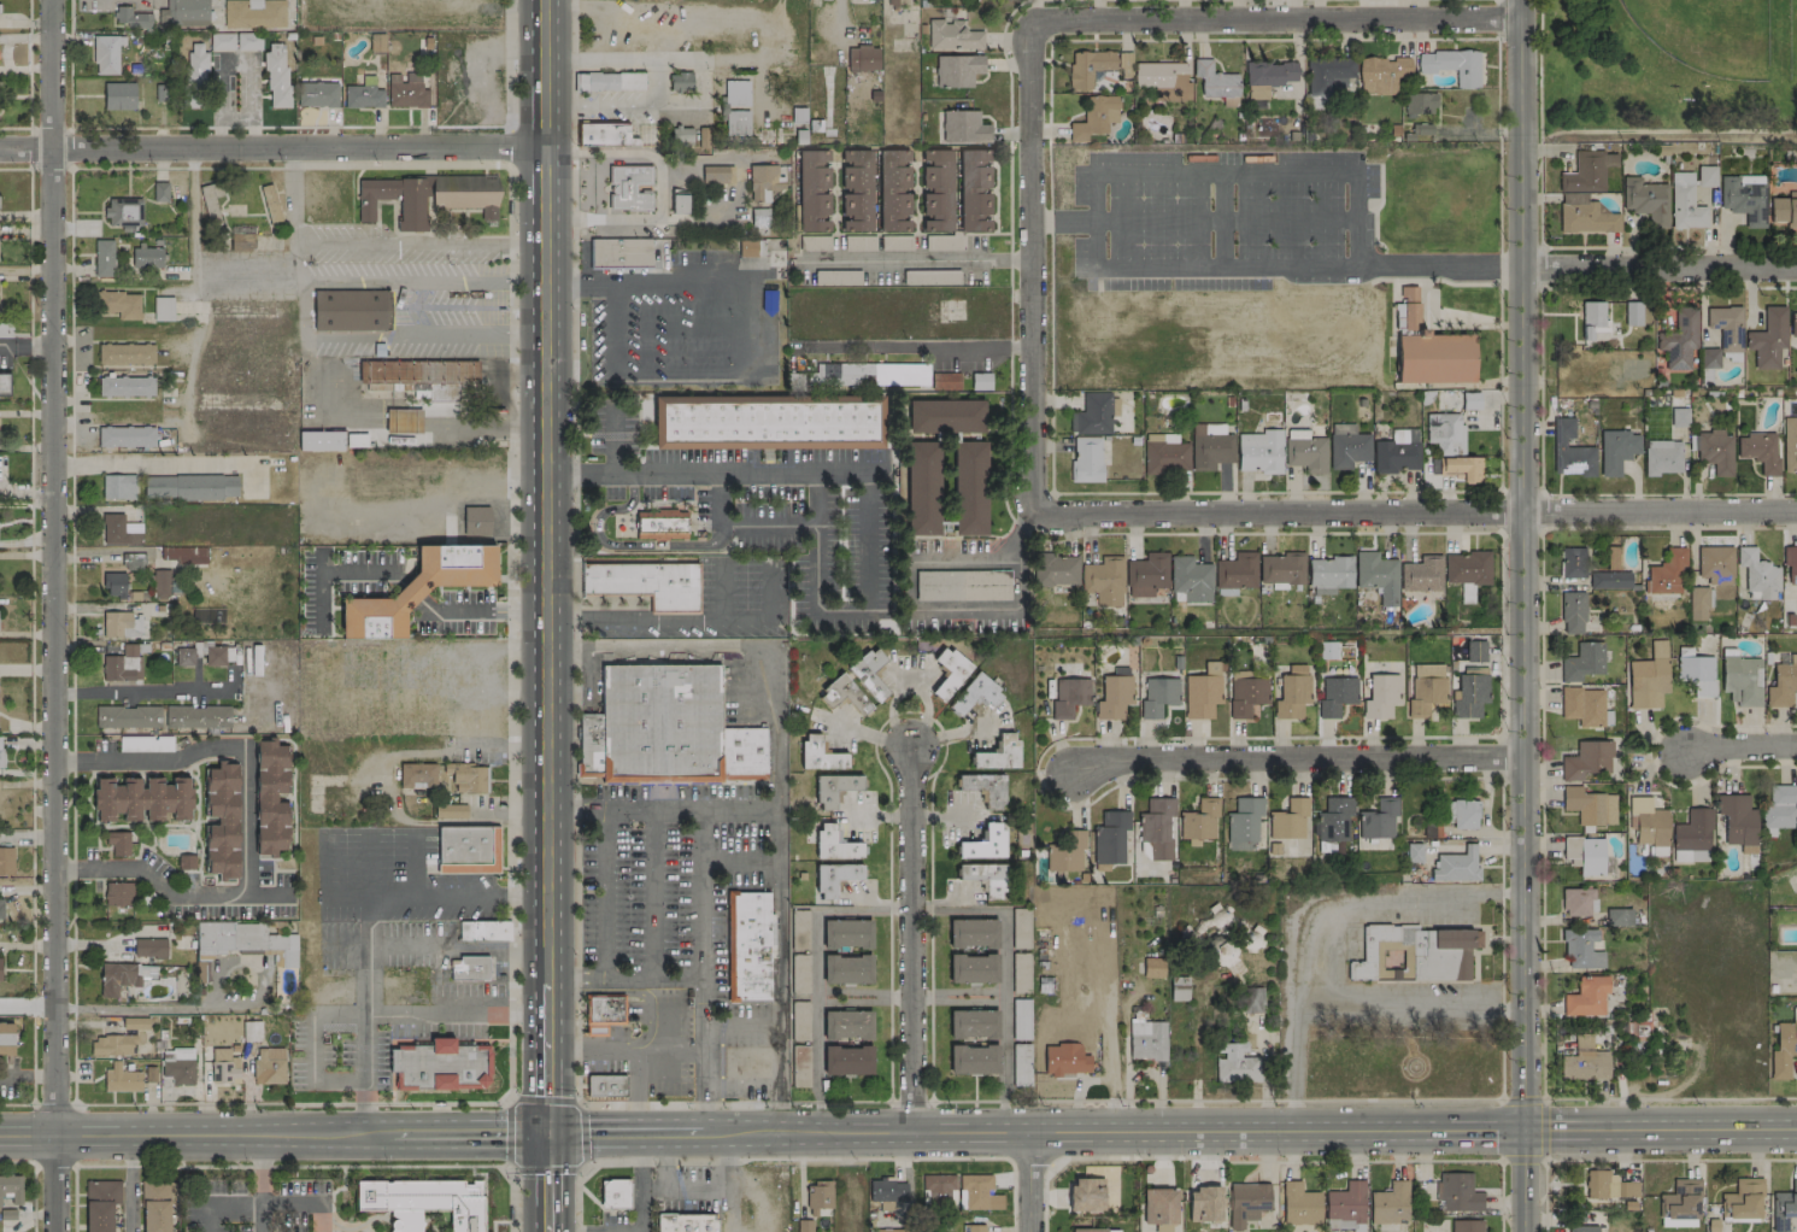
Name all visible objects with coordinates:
building: (186, 13)
building: (254, 13)
road: (1276, 14)
building: (133, 18)
road: (838, 27)
park: (1708, 33)
building: (952, 35)
road: (1051, 39)
building: (248, 40)
building: (222, 41)
building: (377, 42)
park: (1793, 48)
building: (106, 53)
building: (862, 58)
road: (595, 60)
building: (1452, 65)
building: (1088, 66)
building: (957, 69)
park: (1668, 70)
building: (1270, 72)
building: (1327, 74)
building: (1382, 74)
building: (195, 75)
building: (276, 75)
road: (28, 77)
building: (1163, 78)
building: (598, 81)
building: (1216, 82)
building: (406, 90)
building: (317, 94)
building: (364, 94)
building: (119, 95)
road: (628, 104)
building: (1420, 104)
building: (1094, 117)
building: (734, 123)
road: (101, 127)
road: (445, 127)
building: (962, 127)
building: (1421, 128)
building: (603, 134)
building: (689, 136)
road: (513, 145)
road: (272, 151)
building: (1586, 171)
building: (713, 174)
building: (1707, 175)
building: (763, 181)
building: (629, 187)
road: (658, 188)
building: (856, 189)
building: (893, 189)
building: (936, 189)
building: (159, 190)
building: (814, 190)
building: (974, 192)
building: (1646, 200)
building: (1743, 200)
building: (211, 201)
building: (1685, 201)
building: (270, 203)
building: (462, 203)
building: (1784, 209)
building: (124, 212)
building: (1584, 215)
road: (294, 216)
building: (761, 221)
road: (1064, 222)
road: (513, 233)
building: (237, 241)
road: (419, 246)
building: (751, 247)
road: (1539, 247)
building: (621, 252)
building: (147, 257)
road: (1094, 257)
building: (104, 258)
road: (921, 258)
road: (1035, 260)
road: (1657, 269)
road: (194, 270)
road: (645, 276)
building: (119, 304)
road: (454, 306)
building: (1410, 306)
building: (163, 307)
road: (305, 309)
building: (350, 309)
building: (1632, 312)
building: (1398, 317)
building: (1592, 318)
building: (1792, 324)
building: (1726, 327)
building: (5, 333)
building: (1768, 338)
building: (1679, 339)
road: (915, 345)
road: (25, 346)
building: (125, 353)
building: (1709, 357)
building: (1435, 358)
road: (446, 374)
building: (869, 374)
building: (418, 375)
building: (4, 382)
building: (127, 386)
building: (1470, 400)
building: (1092, 413)
building: (945, 416)
building: (1679, 416)
building: (404, 420)
building: (767, 422)
road: (428, 424)
building: (1445, 432)
road: (605, 434)
building: (127, 436)
building: (331, 440)
building: (1790, 444)
road: (724, 446)
building: (1210, 446)
building: (1349, 448)
building: (1616, 450)
building: (1758, 450)
building: (1259, 451)
building: (1305, 451)
building: (1397, 451)
building: (1569, 451)
building: (1715, 451)
building: (1165, 454)
building: (1662, 457)
building: (1087, 459)
road: (152, 462)
building: (1463, 468)
building: (118, 486)
building: (190, 487)
building: (922, 488)
building: (969, 488)
road: (546, 491)
road: (1669, 494)
road: (720, 499)
road: (868, 500)
road: (1005, 503)
road: (1417, 506)
road: (1540, 511)
road: (1501, 514)
building: (476, 521)
building: (660, 523)
road: (1668, 527)
building: (118, 529)
road: (618, 547)
building: (186, 553)
road: (27, 555)
building: (1613, 559)
building: (1572, 562)
building: (1790, 563)
building: (1715, 564)
building: (1467, 567)
building: (1281, 568)
building: (1056, 569)
road: (331, 571)
building: (1235, 573)
building: (1667, 573)
building: (1146, 574)
building: (1329, 574)
building: (1421, 574)
building: (1378, 575)
building: (1757, 575)
building: (1191, 579)
building: (1104, 580)
building: (1609, 580)
building: (646, 582)
building: (114, 583)
building: (165, 583)
building: (962, 585)
building: (418, 588)
road: (412, 589)
road: (610, 600)
road: (630, 600)
road: (71, 602)
road: (593, 602)
building: (1698, 603)
road: (610, 606)
road: (938, 611)
road: (481, 612)
building: (1573, 612)
road: (54, 615)
road: (1521, 616)
road: (682, 617)
building: (122, 624)
building: (1328, 649)
road: (739, 650)
building: (1475, 651)
building: (200, 653)
building: (1582, 662)
building: (123, 664)
building: (869, 673)
building: (950, 673)
building: (1697, 673)
building: (1649, 677)
building: (1742, 680)
building: (1783, 684)
building: (1426, 687)
road: (142, 690)
building: (1292, 692)
building: (844, 694)
building: (975, 694)
building: (1246, 694)
building: (1069, 696)
building: (1158, 696)
building: (1202, 696)
building: (1337, 696)
building: (1381, 696)
building: (1469, 696)
building: (1114, 698)
road: (509, 703)
building: (1582, 705)
building: (128, 716)
building: (199, 717)
building: (659, 721)
building: (0, 738)
road: (1739, 741)
building: (588, 744)
road: (500, 746)
building: (741, 751)
building: (999, 753)
road: (1649, 753)
building: (1, 756)
road: (1293, 758)
building: (1588, 759)
building: (829, 761)
building: (417, 774)
building: (468, 778)
road: (668, 781)
building: (985, 787)
building: (833, 788)
building: (270, 797)
building: (142, 798)
building: (1588, 805)
building: (1780, 806)
building: (451, 810)
building: (1461, 812)
road: (1541, 812)
road: (1502, 814)
road: (936, 815)
building: (1200, 819)
building: (1333, 819)
building: (1378, 819)
building: (222, 820)
building: (1288, 820)
building: (1738, 820)
building: (1646, 821)
building: (1243, 822)
road: (246, 825)
building: (1157, 827)
building: (1692, 831)
road: (27, 834)
building: (1110, 837)
building: (118, 841)
building: (985, 843)
building: (834, 844)
building: (468, 849)
building: (1414, 851)
building: (1067, 852)
building: (1585, 855)
building: (1690, 855)
building: (6, 860)
building: (1456, 866)
building: (983, 876)
building: (834, 878)
road: (777, 885)
road: (27, 886)
road: (609, 891)
building: (119, 893)
road: (944, 897)
road: (1369, 898)
building: (1579, 900)
building: (1, 908)
building: (1619, 916)
building: (483, 929)
building: (973, 932)
building: (846, 933)
road: (910, 938)
road: (699, 940)
building: (239, 943)
building: (747, 943)
building: (149, 946)
road: (454, 946)
road: (727, 946)
building: (1581, 948)
road: (363, 952)
building: (1414, 954)
building: (468, 966)
building: (1153, 967)
building: (0, 968)
building: (846, 968)
building: (971, 968)
building: (123, 976)
building: (1179, 987)
road: (956, 991)
building: (1587, 996)
road: (700, 999)
building: (1251, 999)
road: (956, 1001)
road: (240, 1003)
road: (1344, 1005)
road: (148, 1007)
road: (27, 1008)
building: (600, 1010)
building: (1795, 1013)
building: (135, 1022)
building: (973, 1022)
road: (1002, 1022)
building: (846, 1023)
building: (252, 1031)
building: (1020, 1033)
road: (700, 1036)
building: (6, 1038)
building: (1146, 1039)
building: (112, 1044)
road: (313, 1046)
road: (634, 1046)
building: (1784, 1049)
road: (720, 1050)
road: (547, 1057)
building: (973, 1058)
building: (847, 1060)
building: (1065, 1060)
building: (1585, 1061)
building: (1235, 1063)
building: (439, 1064)
building: (224, 1066)
building: (269, 1066)
building: (180, 1067)
road: (368, 1070)
building: (127, 1076)
road: (28, 1079)
road: (580, 1084)
building: (605, 1084)
road: (1522, 1097)
road: (1669, 1097)
road: (541, 1098)
road: (882, 1101)
road: (474, 1102)
road: (1502, 1127)
road: (1543, 1127)
road: (505, 1132)
road: (1171, 1132)
road: (272, 1134)
road: (587, 1134)
road: (1523, 1157)
road: (1669, 1158)
road: (799, 1160)
road: (1239, 1162)
road: (289, 1164)
road: (546, 1167)
road: (33, 1180)
road: (548, 1181)
road: (133, 1183)
road: (259, 1183)
building: (938, 1183)
road: (1029, 1183)
road: (636, 1185)
road: (680, 1185)
building: (1609, 1185)
building: (11, 1187)
road: (693, 1187)
building: (888, 1190)
building: (613, 1191)
building: (1457, 1192)
building: (979, 1193)
road: (1545, 1193)
building: (818, 1195)
road: (1501, 1195)
building: (1743, 1199)
building: (1247, 1202)
building: (1345, 1202)
building: (1205, 1203)
building: (1299, 1203)
building: (1390, 1203)
building: (100, 1204)
building: (424, 1204)
building: (1680, 1204)
building: (155, 1205)
building: (1159, 1205)
building: (1784, 1207)
building: (7, 1214)
building: (686, 1222)
building: (1339, 1224)
building: (1467, 1225)
building: (974, 1228)
building: (1581, 1228)
building: (1096, 1230)
building: (894, 1231)

